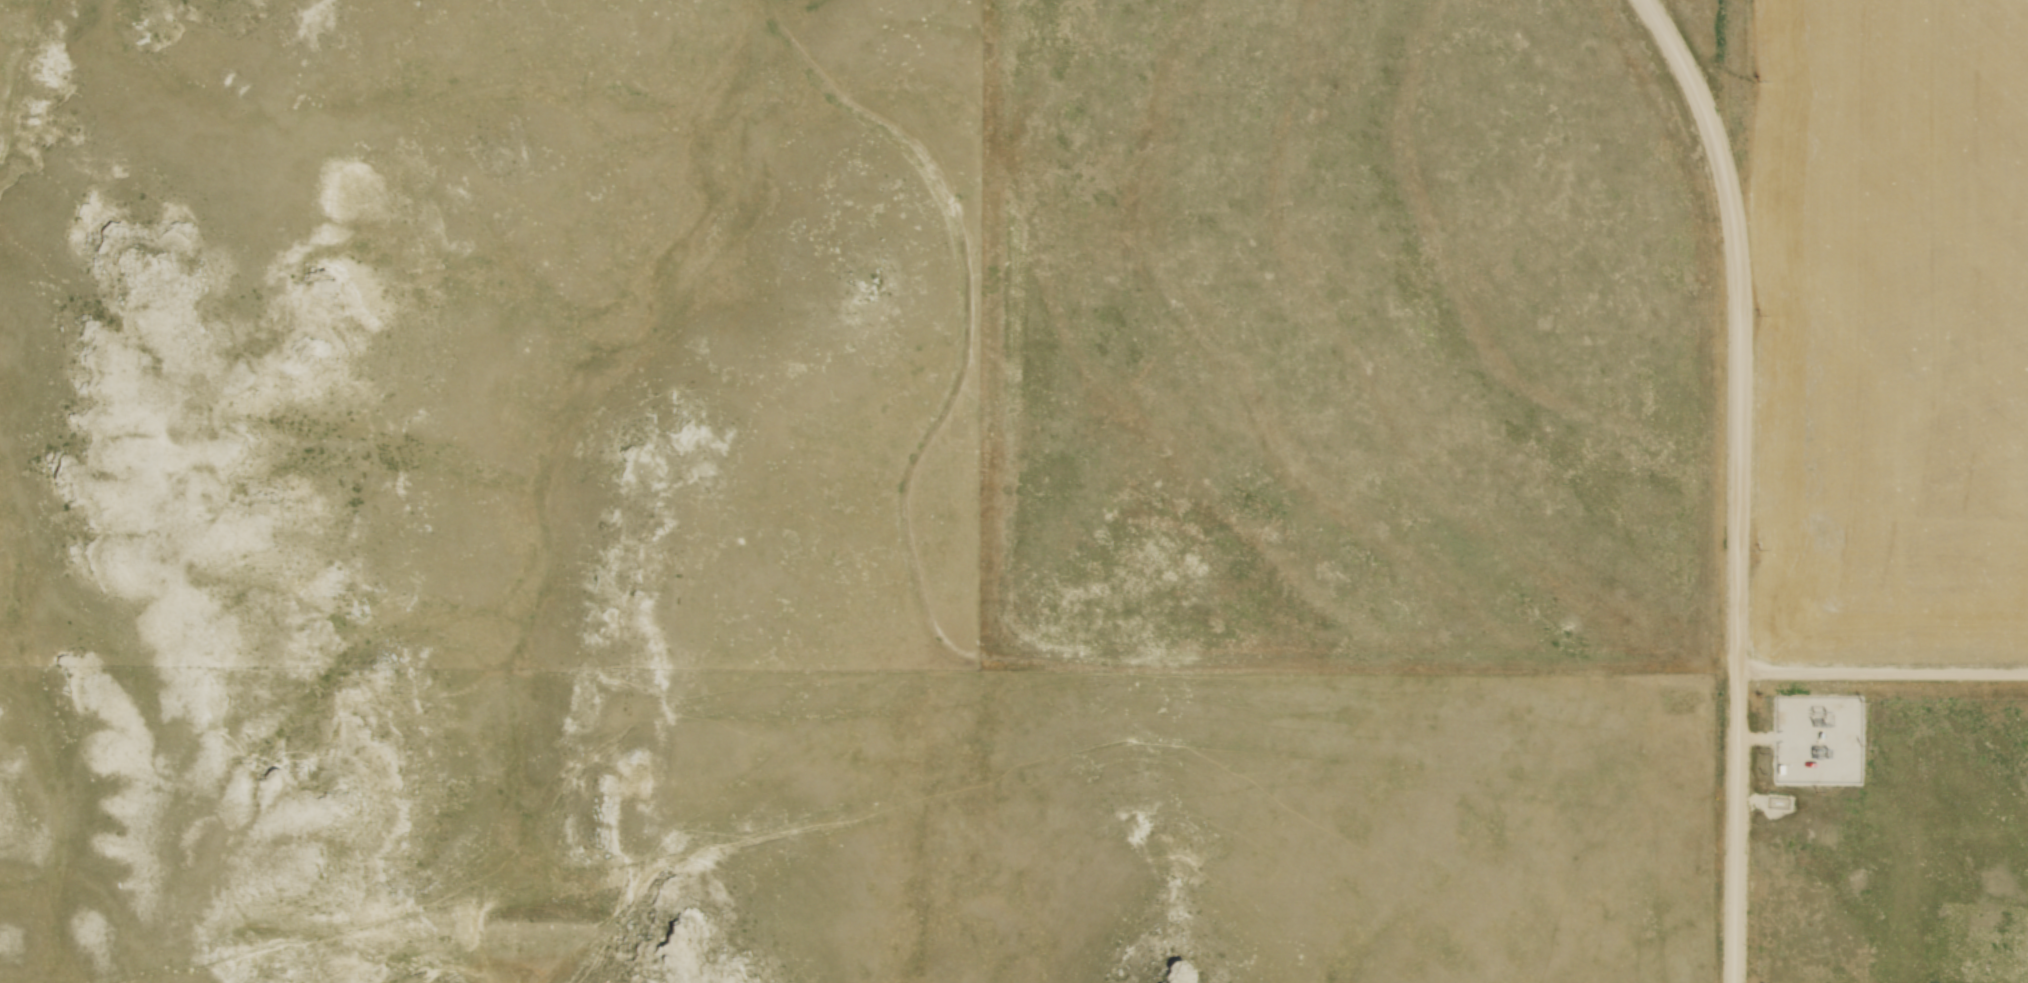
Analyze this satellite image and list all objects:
crop: (1887, 333)
road: (1732, 481)
road: (1879, 676)
power substation: (1810, 745)

